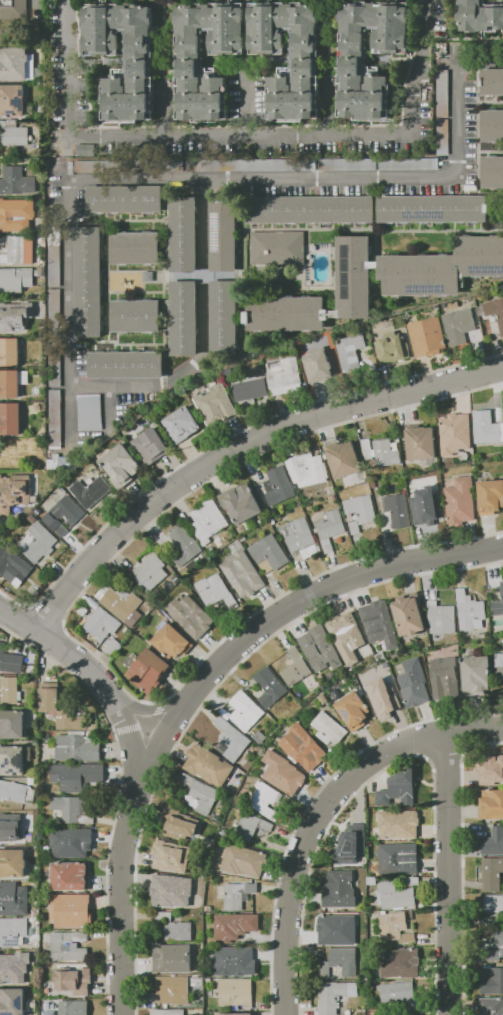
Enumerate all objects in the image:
road: (36, 3)
building: (13, 9)
building: (479, 16)
building: (189, 57)
building: (352, 61)
building: (16, 63)
building: (138, 64)
road: (419, 66)
building: (491, 81)
building: (442, 92)
building: (14, 101)
road: (245, 103)
road: (327, 109)
road: (163, 111)
building: (492, 124)
building: (13, 133)
road: (172, 135)
building: (442, 136)
building: (85, 149)
road: (66, 157)
building: (407, 163)
building: (250, 164)
building: (347, 164)
building: (97, 165)
building: (153, 165)
building: (492, 171)
road: (212, 176)
building: (16, 180)
building: (124, 199)
building: (432, 208)
building: (310, 209)
building: (15, 216)
building: (40, 229)
building: (183, 233)
building: (223, 233)
building: (135, 247)
building: (277, 247)
building: (15, 251)
building: (480, 255)
building: (54, 256)
building: (41, 271)
building: (420, 274)
building: (148, 276)
building: (354, 276)
building: (15, 279)
building: (88, 281)
building: (493, 310)
building: (54, 312)
building: (286, 313)
building: (15, 314)
building: (135, 315)
building: (407, 315)
building: (183, 317)
building: (223, 317)
building: (458, 325)
building: (348, 331)
building: (427, 336)
road: (203, 337)
building: (396, 344)
building: (301, 345)
building: (349, 351)
building: (9, 352)
building: (54, 362)
building: (320, 363)
building: (125, 364)
building: (284, 375)
building: (12, 382)
building: (250, 389)
building: (215, 404)
building: (89, 412)
building: (10, 418)
building: (55, 418)
building: (181, 423)
building: (486, 427)
building: (453, 437)
building: (421, 443)
building: (151, 445)
road: (239, 448)
building: (381, 451)
building: (343, 459)
building: (120, 465)
building: (307, 469)
building: (278, 485)
building: (330, 489)
building: (91, 490)
building: (14, 492)
building: (490, 496)
building: (333, 497)
building: (429, 498)
building: (460, 500)
building: (241, 503)
building: (361, 508)
building: (397, 509)
building: (64, 514)
building: (32, 518)
building: (207, 520)
building: (354, 526)
building: (329, 528)
building: (297, 534)
building: (85, 537)
building: (242, 537)
building: (38, 541)
building: (183, 545)
building: (210, 550)
building: (309, 551)
building: (268, 552)
building: (9, 564)
building: (242, 571)
building: (149, 572)
building: (41, 576)
building: (215, 589)
building: (121, 603)
building: (498, 603)
road: (307, 605)
building: (89, 606)
building: (469, 611)
building: (408, 614)
building: (441, 614)
building: (190, 615)
building: (496, 622)
building: (379, 623)
building: (101, 624)
building: (346, 635)
building: (170, 640)
building: (449, 640)
building: (111, 646)
building: (319, 648)
building: (381, 656)
building: (10, 660)
building: (31, 662)
building: (387, 662)
road: (84, 665)
building: (499, 665)
building: (295, 667)
building: (147, 670)
building: (476, 674)
building: (320, 676)
building: (445, 677)
building: (414, 683)
building: (269, 685)
building: (9, 689)
building: (380, 692)
building: (322, 698)
building: (59, 705)
building: (353, 709)
building: (245, 710)
building: (12, 724)
building: (328, 728)
building: (259, 737)
building: (230, 740)
building: (302, 746)
building: (77, 747)
building: (12, 760)
building: (207, 764)
building: (280, 770)
building: (493, 770)
building: (76, 775)
building: (31, 780)
building: (398, 788)
building: (16, 791)
building: (200, 794)
building: (264, 799)
building: (491, 804)
building: (72, 808)
road: (318, 812)
building: (229, 820)
building: (183, 823)
building: (396, 824)
building: (250, 825)
building: (10, 827)
building: (356, 830)
building: (71, 842)
building: (493, 842)
building: (349, 853)
building: (170, 856)
building: (398, 858)
building: (244, 859)
building: (14, 863)
road: (123, 873)
building: (489, 873)
building: (70, 875)
road: (447, 875)
building: (372, 880)
building: (410, 880)
building: (171, 887)
building: (33, 889)
building: (339, 889)
building: (238, 894)
building: (396, 896)
building: (13, 898)
building: (493, 902)
building: (165, 904)
building: (208, 908)
building: (70, 909)
building: (162, 916)
building: (338, 922)
building: (234, 925)
building: (394, 927)
building: (178, 930)
building: (12, 931)
building: (498, 935)
building: (359, 938)
building: (321, 940)
building: (334, 940)
building: (67, 945)
building: (492, 954)
building: (172, 958)
building: (233, 960)
building: (339, 962)
building: (398, 962)
building: (14, 967)
building: (147, 971)
building: (67, 978)
building: (195, 981)
building: (492, 982)
building: (172, 989)
building: (29, 991)
building: (235, 992)
building: (395, 992)
building: (334, 996)
building: (12, 1001)
building: (147, 1004)
building: (47, 1005)
building: (52, 1006)
building: (491, 1006)
building: (73, 1007)
building: (373, 1011)
building: (49, 1012)
building: (169, 1012)
building: (361, 1012)
building: (29, 1013)
building: (235, 1013)
building: (348, 1013)

